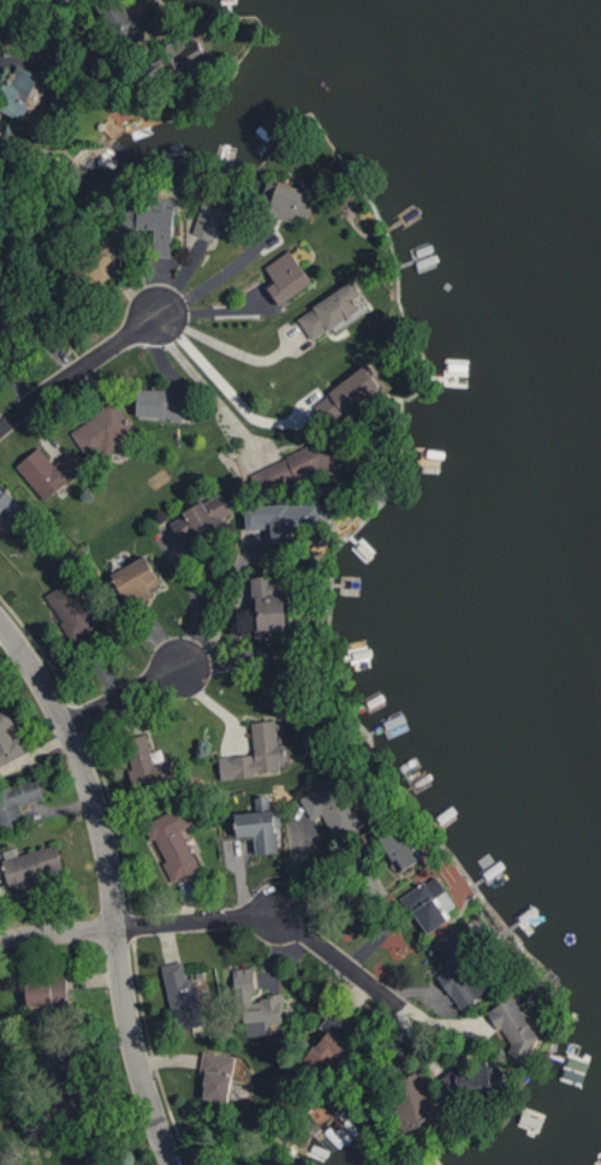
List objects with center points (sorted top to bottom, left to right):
road: (66, 69)
building: (281, 203)
road: (216, 275)
building: (278, 278)
building: (323, 311)
road: (228, 349)
road: (78, 370)
road: (202, 381)
road: (222, 384)
building: (341, 396)
building: (141, 404)
building: (99, 430)
building: (50, 471)
building: (8, 500)
building: (197, 519)
building: (137, 581)
road: (222, 596)
building: (269, 605)
building: (72, 608)
building: (279, 672)
road: (121, 696)
building: (10, 741)
building: (257, 753)
building: (147, 762)
building: (17, 801)
building: (333, 807)
building: (261, 825)
building: (174, 842)
building: (398, 849)
building: (30, 864)
road: (109, 885)
road: (139, 926)
road: (337, 958)
building: (462, 973)
building: (47, 989)
building: (186, 995)
building: (256, 1005)
building: (516, 1027)
building: (329, 1051)
building: (218, 1076)
building: (480, 1077)
building: (65, 1084)
building: (415, 1100)

